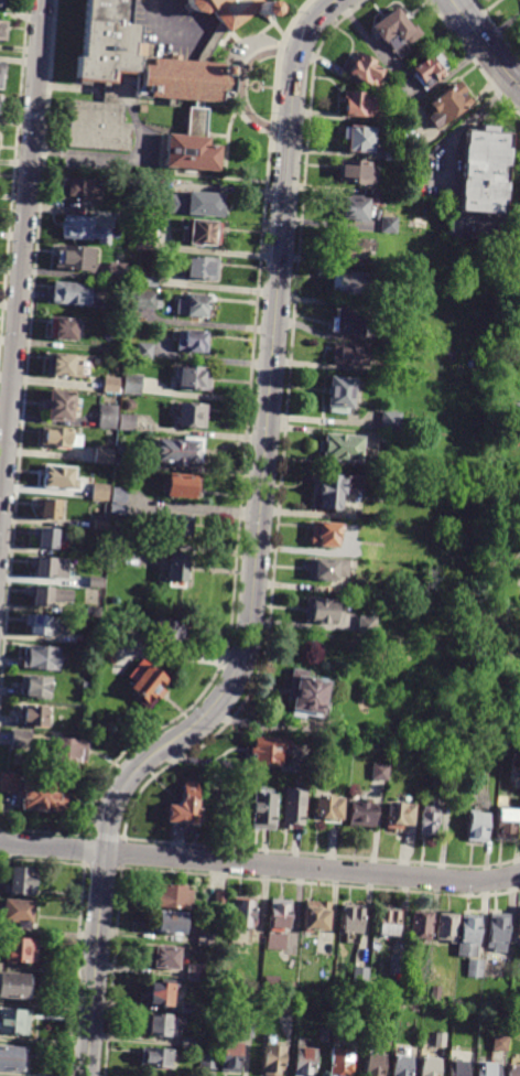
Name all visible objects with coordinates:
building: (4, 2)
building: (231, 9)
parking lot: (171, 29)
building: (3, 30)
building: (396, 32)
road: (213, 41)
road: (485, 44)
parking lot: (249, 45)
road: (473, 57)
building: (430, 71)
building: (368, 73)
building: (1, 74)
road: (243, 84)
building: (147, 90)
building: (0, 101)
building: (359, 105)
building: (447, 106)
building: (143, 108)
building: (358, 138)
building: (392, 153)
building: (485, 171)
building: (358, 172)
building: (80, 189)
building: (198, 203)
building: (519, 205)
building: (354, 207)
building: (130, 216)
building: (388, 225)
building: (84, 228)
building: (201, 232)
building: (144, 238)
building: (350, 248)
building: (75, 257)
road: (22, 263)
building: (203, 268)
building: (118, 273)
building: (149, 281)
building: (351, 283)
building: (73, 292)
building: (142, 299)
building: (193, 305)
building: (346, 323)
building: (65, 326)
building: (512, 329)
building: (193, 342)
building: (144, 351)
road: (29, 354)
building: (348, 355)
building: (63, 365)
building: (194, 378)
building: (132, 384)
building: (111, 385)
building: (339, 392)
building: (59, 405)
building: (191, 415)
building: (516, 415)
building: (107, 417)
building: (389, 421)
building: (126, 422)
road: (283, 437)
building: (59, 438)
building: (384, 438)
road: (247, 439)
building: (340, 448)
building: (123, 450)
building: (181, 450)
building: (104, 455)
building: (121, 462)
building: (61, 476)
building: (182, 485)
building: (333, 491)
building: (99, 492)
building: (119, 495)
building: (48, 508)
building: (118, 509)
building: (100, 525)
building: (181, 525)
building: (116, 535)
building: (324, 535)
building: (46, 537)
building: (115, 549)
building: (101, 555)
road: (256, 559)
building: (50, 567)
building: (177, 569)
building: (325, 569)
building: (495, 578)
building: (96, 582)
building: (48, 595)
building: (505, 609)
building: (319, 610)
building: (93, 611)
building: (42, 624)
building: (365, 625)
building: (172, 630)
building: (109, 639)
building: (499, 642)
building: (95, 643)
building: (106, 656)
building: (42, 658)
building: (147, 684)
building: (87, 685)
building: (36, 686)
building: (513, 688)
building: (305, 696)
building: (35, 717)
building: (22, 739)
building: (69, 750)
building: (269, 751)
building: (514, 764)
building: (378, 772)
building: (9, 782)
building: (449, 788)
building: (43, 796)
building: (293, 808)
building: (329, 809)
building: (185, 810)
building: (261, 811)
building: (361, 815)
building: (399, 816)
building: (427, 820)
building: (503, 822)
building: (476, 827)
road: (42, 830)
road: (52, 847)
road: (289, 850)
road: (487, 864)
road: (312, 869)
building: (21, 882)
building: (174, 897)
building: (219, 901)
building: (19, 914)
building: (242, 914)
building: (279, 914)
building: (317, 916)
building: (351, 921)
building: (388, 922)
building: (170, 924)
building: (421, 925)
building: (446, 927)
building: (519, 927)
building: (498, 933)
building: (468, 936)
building: (205, 938)
building: (277, 943)
building: (19, 949)
building: (165, 959)
building: (398, 967)
building: (474, 968)
building: (194, 972)
building: (359, 975)
building: (508, 975)
building: (15, 986)
building: (289, 986)
building: (420, 992)
building: (435, 993)
building: (160, 996)
building: (514, 1003)
building: (285, 1004)
building: (420, 1007)
building: (188, 1009)
building: (458, 1011)
building: (519, 1014)
building: (14, 1022)
building: (161, 1026)
building: (248, 1030)
building: (323, 1035)
building: (438, 1040)
building: (188, 1043)
building: (499, 1044)
building: (155, 1058)
building: (230, 1058)
building: (12, 1059)
building: (272, 1061)
building: (207, 1062)
building: (304, 1063)
building: (340, 1063)
building: (375, 1065)
building: (401, 1066)
building: (430, 1067)
building: (457, 1068)
building: (488, 1069)
building: (513, 1070)

